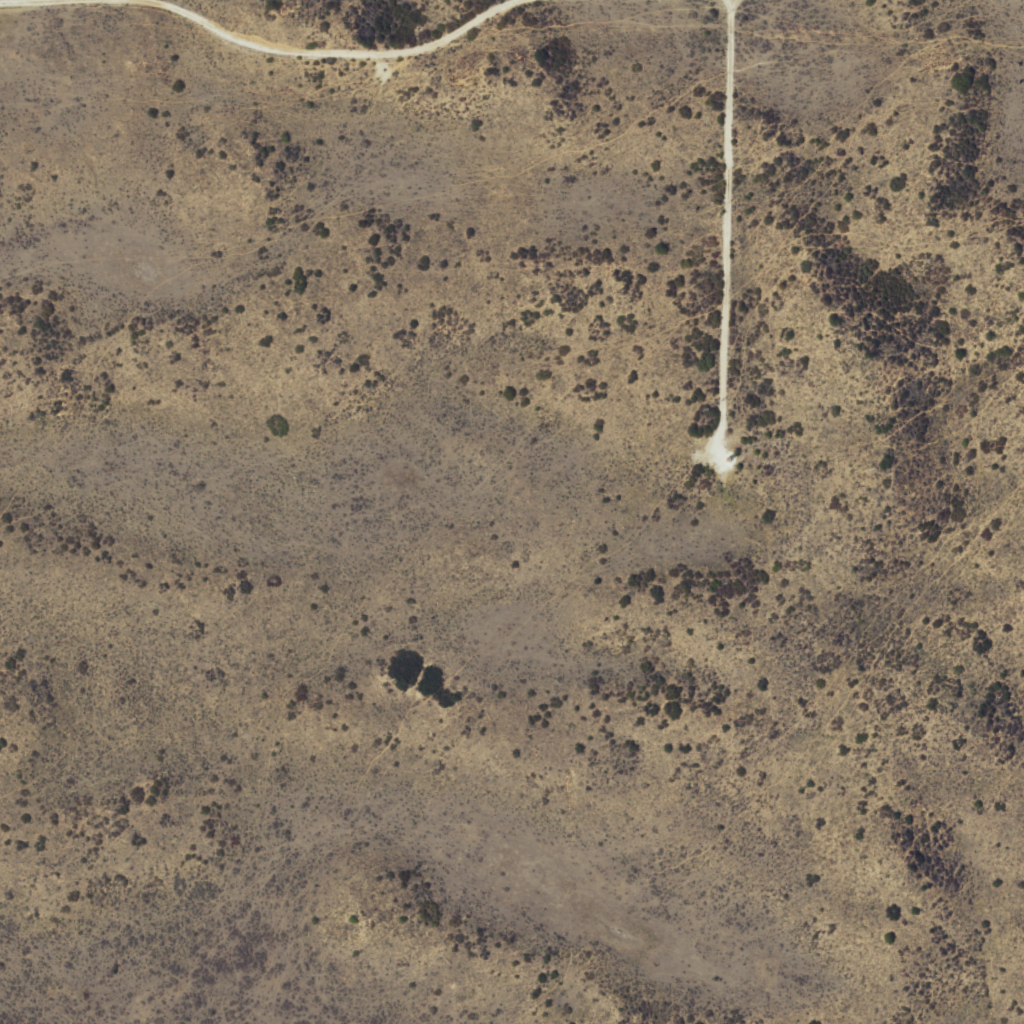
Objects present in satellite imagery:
road: (268, 50)

